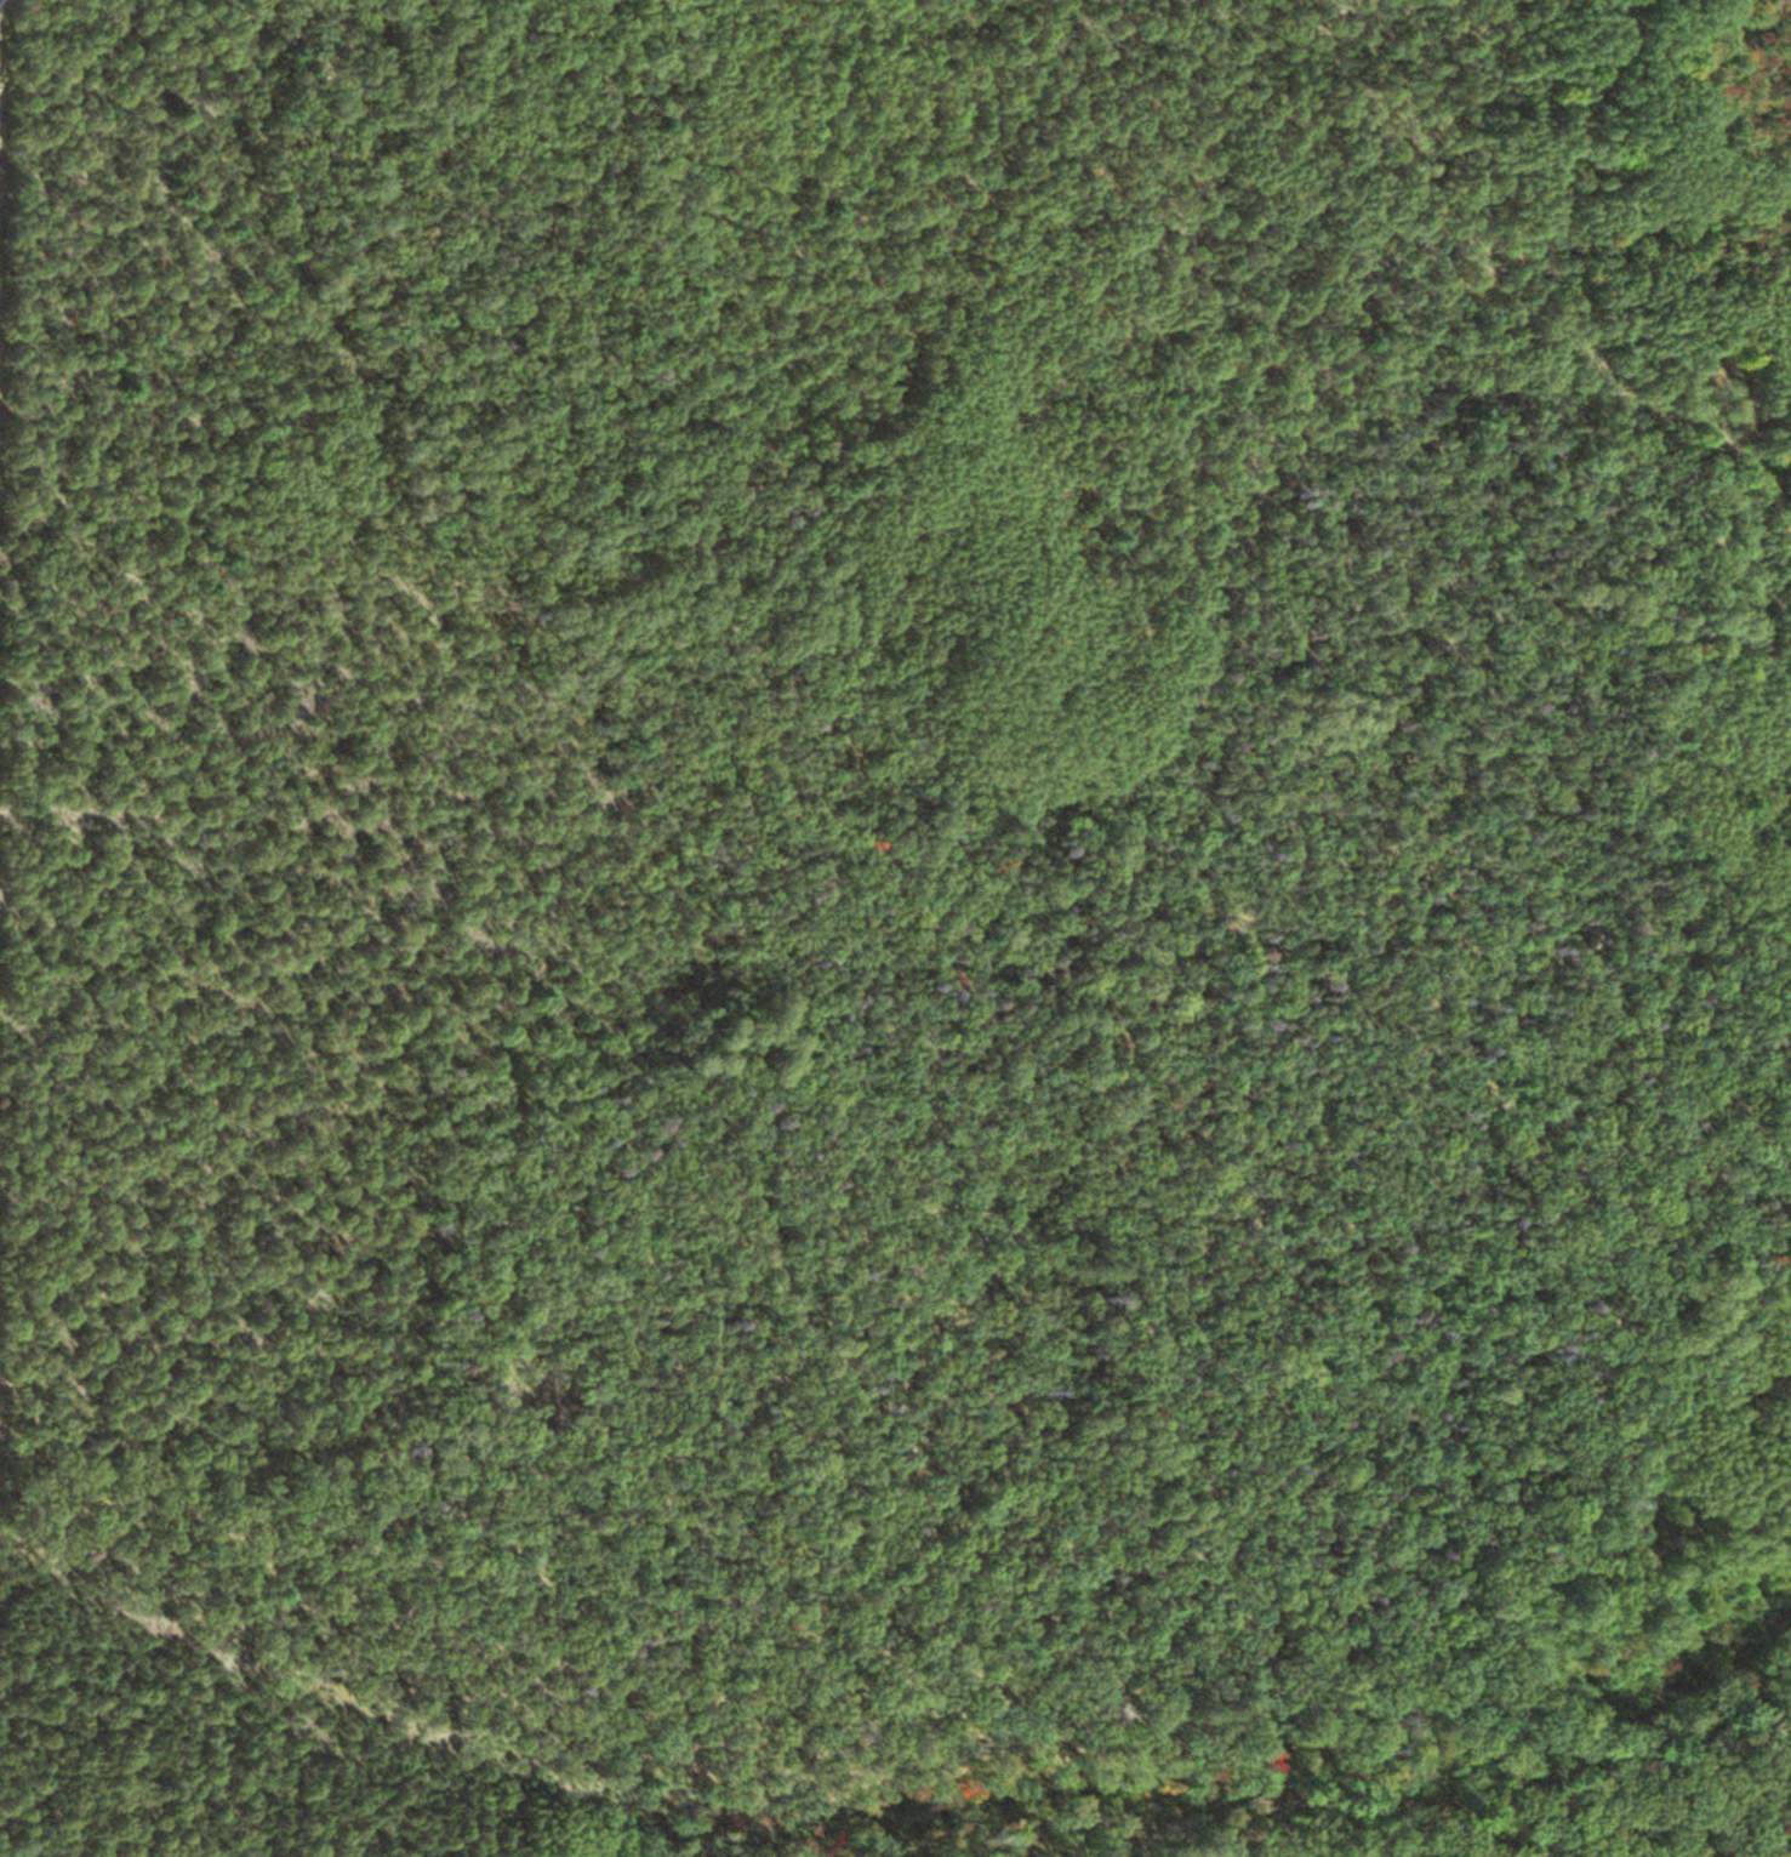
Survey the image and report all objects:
road: (1578, 300)

